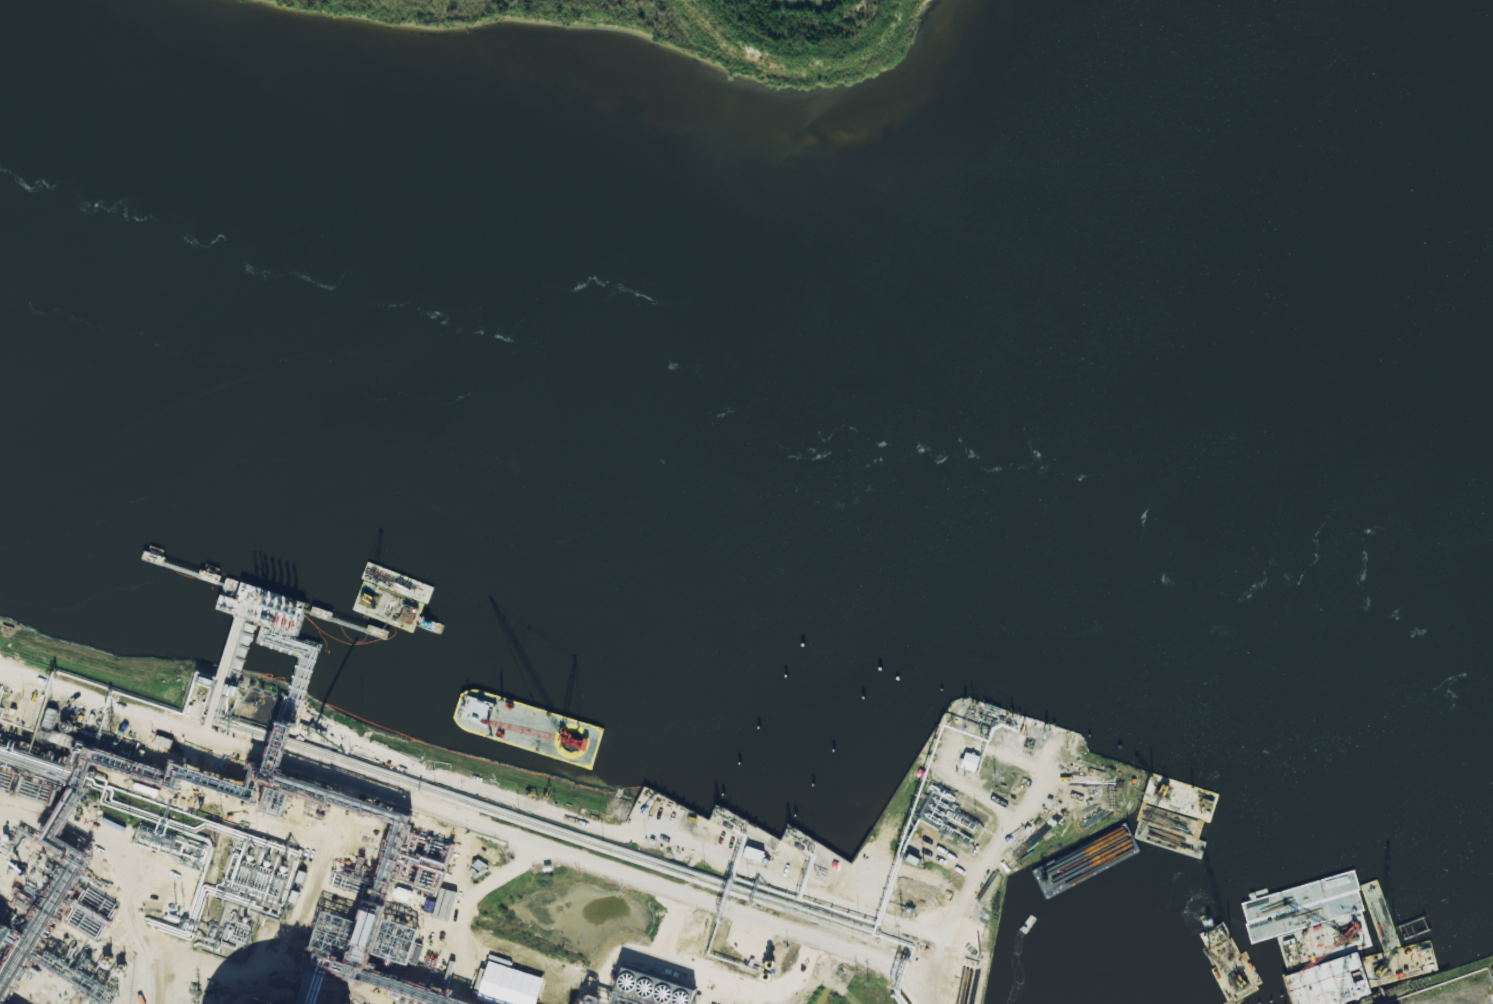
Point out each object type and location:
river: (740, 467)
road: (216, 708)
building: (968, 762)
road: (939, 767)
road: (1036, 776)
road: (468, 836)
building: (752, 854)
road: (860, 876)
road: (982, 889)
road: (1385, 1000)

